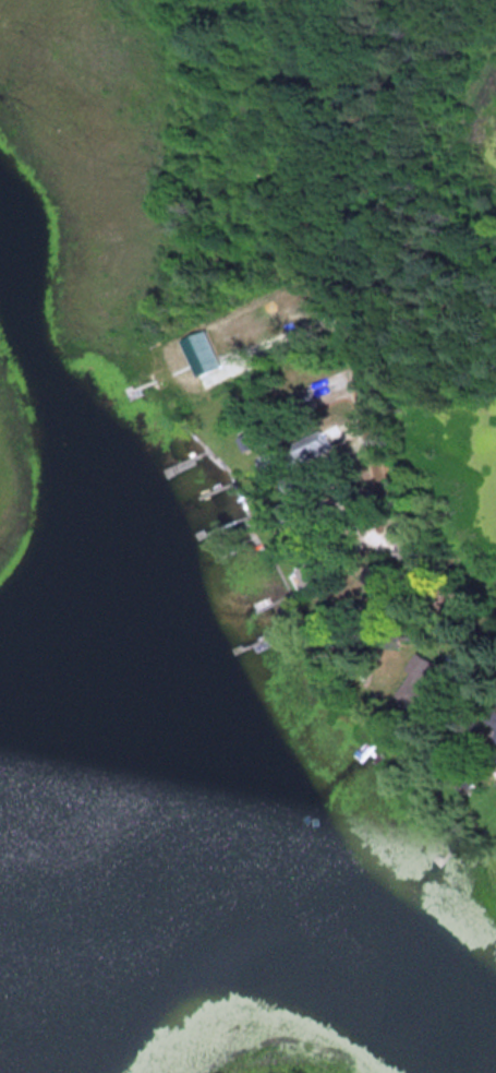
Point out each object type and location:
road: (344, 181)
park: (152, 405)
building: (277, 427)
building: (301, 450)
road: (367, 476)
building: (304, 479)
building: (305, 504)
building: (315, 538)
building: (324, 571)
building: (351, 641)
building: (426, 685)
building: (493, 744)

